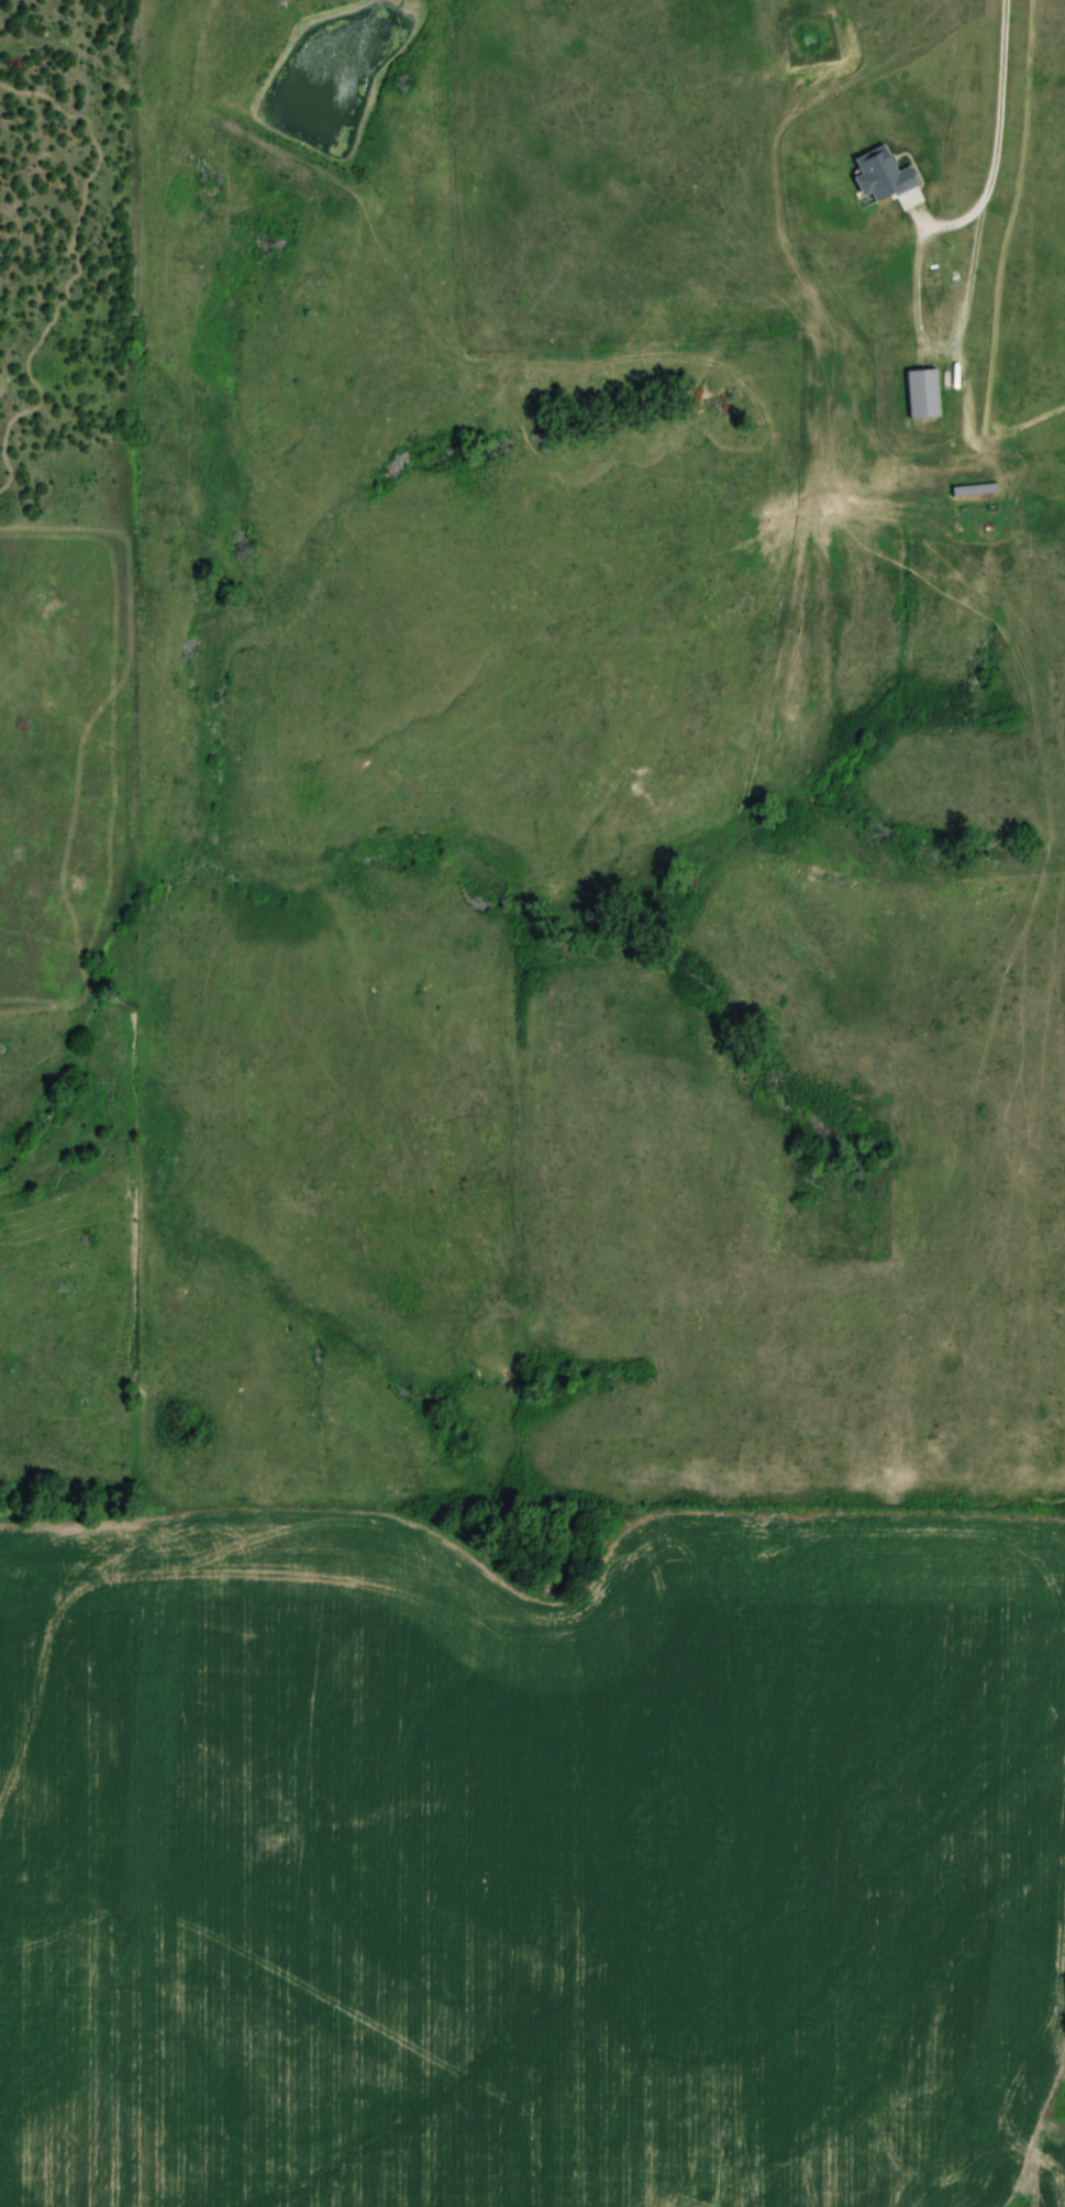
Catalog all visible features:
road: (999, 134)
building: (880, 176)
building: (921, 394)

